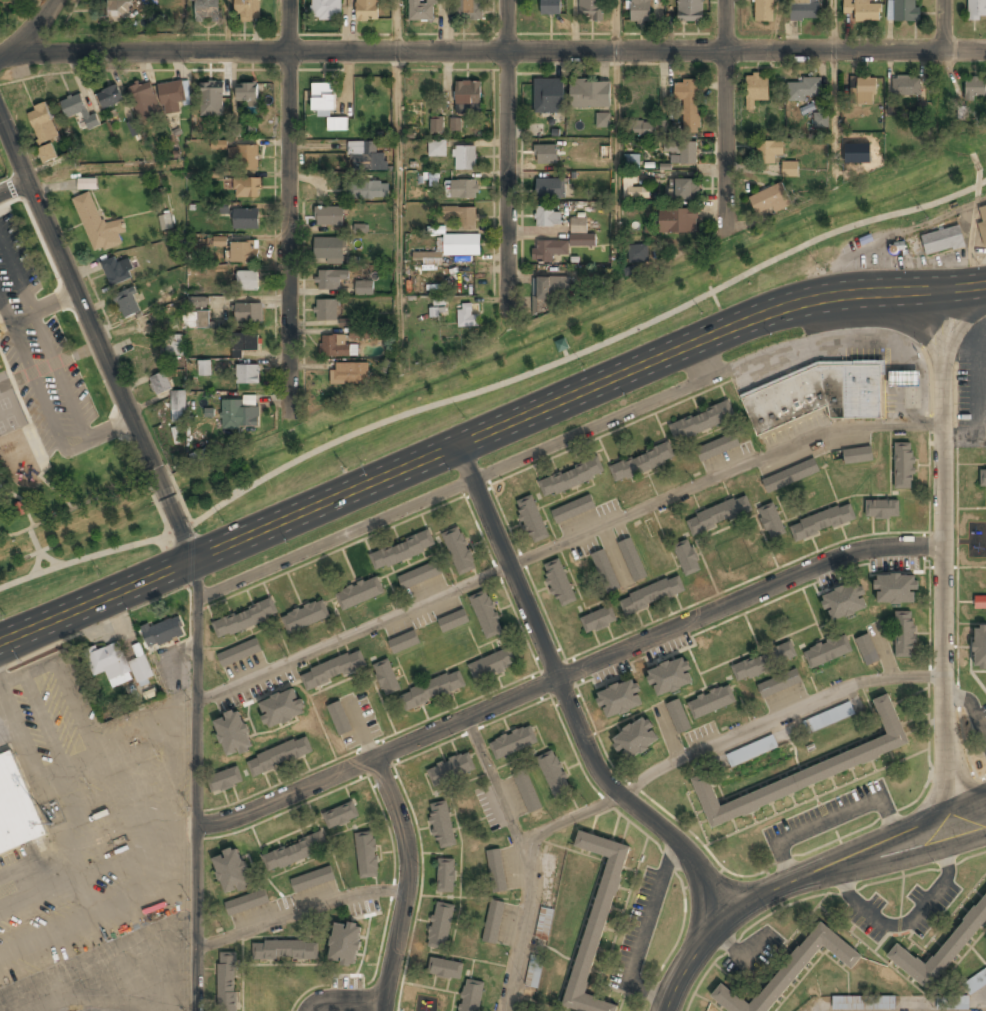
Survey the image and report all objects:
building: (549, 7)
building: (326, 9)
building: (469, 9)
building: (590, 9)
building: (976, 9)
building: (116, 10)
building: (206, 10)
building: (247, 10)
building: (367, 10)
building: (421, 10)
building: (690, 10)
building: (763, 10)
building: (804, 10)
building: (862, 10)
building: (903, 10)
building: (640, 11)
road: (30, 32)
road: (497, 51)
road: (943, 65)
building: (906, 86)
building: (756, 88)
building: (975, 88)
building: (803, 89)
building: (863, 90)
road: (835, 92)
building: (247, 93)
building: (590, 94)
building: (172, 95)
building: (323, 96)
building: (548, 96)
building: (110, 97)
building: (468, 97)
building: (211, 98)
building: (144, 101)
building: (688, 103)
building: (890, 108)
building: (78, 109)
road: (724, 116)
building: (819, 119)
building: (603, 120)
building: (337, 124)
building: (455, 124)
building: (436, 125)
building: (641, 127)
building: (43, 129)
road: (616, 131)
building: (436, 148)
building: (681, 152)
building: (768, 153)
building: (545, 154)
road: (505, 156)
building: (247, 157)
building: (365, 157)
building: (464, 158)
building: (632, 161)
building: (790, 169)
road: (398, 176)
building: (86, 183)
building: (246, 187)
building: (634, 188)
road: (13, 189)
building: (464, 189)
building: (550, 189)
building: (683, 189)
building: (368, 190)
building: (769, 200)
road: (288, 206)
building: (462, 215)
building: (328, 216)
building: (547, 217)
building: (246, 218)
building: (166, 221)
building: (677, 221)
building: (982, 222)
building: (98, 224)
building: (360, 228)
building: (580, 233)
building: (943, 240)
building: (220, 241)
building: (450, 247)
building: (329, 248)
building: (548, 250)
building: (243, 252)
building: (638, 254)
building: (117, 270)
building: (329, 279)
building: (247, 281)
building: (551, 287)
road: (962, 287)
building: (364, 288)
building: (127, 302)
building: (197, 302)
building: (434, 308)
building: (326, 310)
building: (248, 312)
building: (466, 316)
building: (195, 319)
building: (359, 333)
road: (96, 341)
building: (246, 343)
building: (172, 345)
building: (336, 347)
park: (556, 351)
building: (204, 370)
building: (349, 373)
building: (247, 375)
building: (904, 378)
building: (160, 383)
road: (493, 385)
building: (817, 394)
building: (178, 406)
building: (239, 415)
building: (702, 420)
park: (59, 438)
road: (463, 442)
building: (717, 447)
building: (858, 455)
building: (642, 463)
building: (904, 465)
road: (722, 472)
building: (790, 475)
building: (571, 478)
building: (983, 479)
building: (881, 508)
building: (572, 509)
building: (718, 515)
building: (532, 519)
building: (771, 521)
building: (822, 521)
road: (333, 539)
road: (945, 548)
park: (82, 549)
building: (402, 551)
building: (459, 551)
building: (686, 557)
building: (632, 559)
building: (605, 572)
building: (419, 575)
building: (559, 583)
building: (895, 588)
building: (360, 593)
building: (652, 594)
road: (749, 596)
building: (844, 602)
building: (980, 602)
building: (486, 614)
building: (305, 616)
building: (245, 619)
building: (598, 620)
building: (453, 621)
road: (352, 631)
building: (163, 632)
building: (905, 634)
building: (403, 642)
building: (979, 647)
building: (867, 649)
building: (827, 651)
building: (239, 653)
building: (764, 662)
building: (117, 664)
building: (492, 664)
building: (332, 669)
building: (385, 677)
building: (669, 677)
building: (779, 683)
building: (432, 690)
road: (570, 699)
building: (619, 700)
building: (711, 702)
building: (281, 708)
road: (779, 714)
building: (677, 717)
building: (828, 717)
building: (339, 718)
road: (466, 718)
building: (233, 734)
building: (635, 739)
building: (513, 742)
building: (752, 750)
building: (279, 756)
building: (451, 769)
building: (808, 769)
building: (553, 773)
building: (225, 780)
road: (196, 784)
building: (526, 791)
road: (284, 793)
building: (16, 808)
building: (340, 815)
road: (572, 817)
building: (442, 825)
road: (886, 833)
building: (294, 852)
building: (367, 855)
building: (494, 857)
road: (527, 859)
road: (890, 866)
building: (232, 872)
building: (446, 875)
building: (312, 880)
road: (405, 881)
building: (246, 902)
road: (300, 913)
building: (493, 921)
building: (596, 921)
building: (544, 924)
building: (440, 925)
road: (715, 934)
building: (345, 943)
building: (941, 949)
building: (285, 950)
building: (445, 969)
building: (791, 969)
building: (534, 971)
building: (975, 981)
building: (227, 982)
building: (471, 996)
road: (346, 1000)
building: (863, 1002)
building: (952, 1002)

